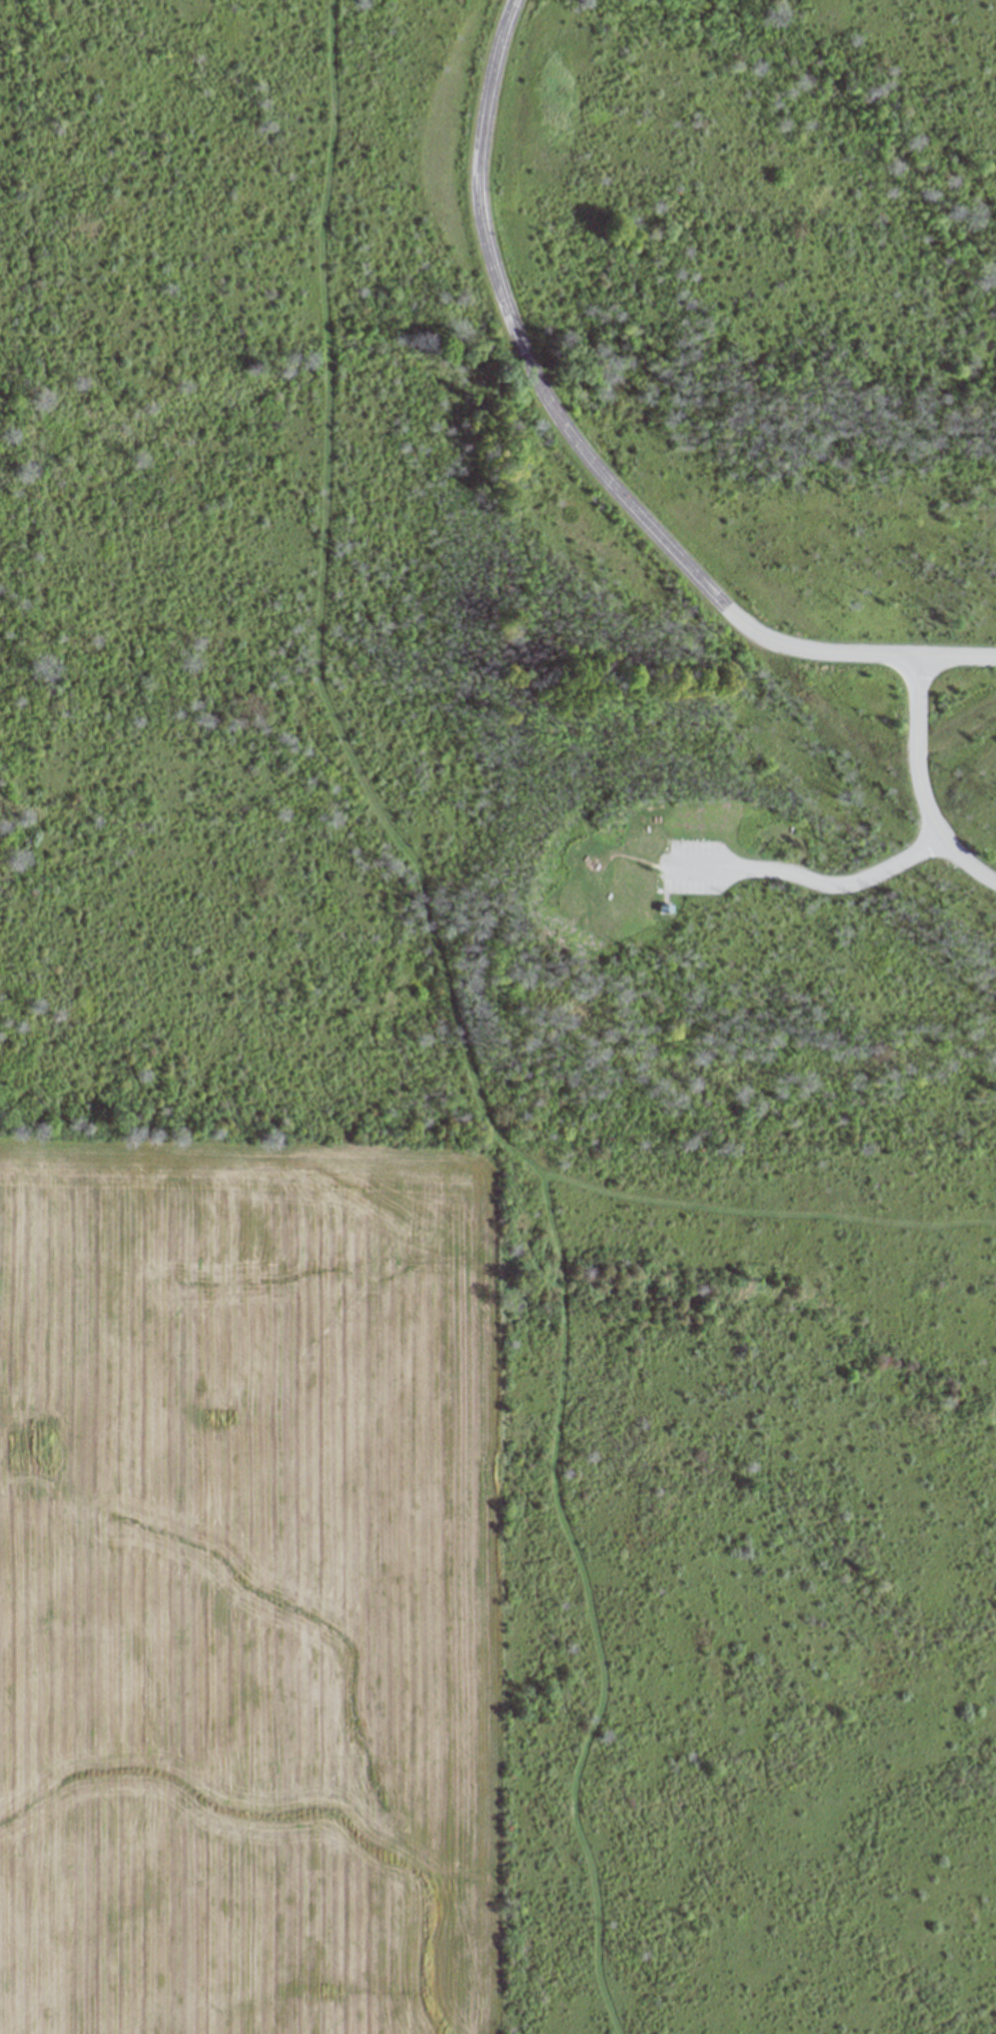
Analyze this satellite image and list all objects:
road: (582, 457)
road: (920, 784)
parking lot: (695, 866)
road: (700, 867)
road: (839, 884)
road: (763, 1214)

